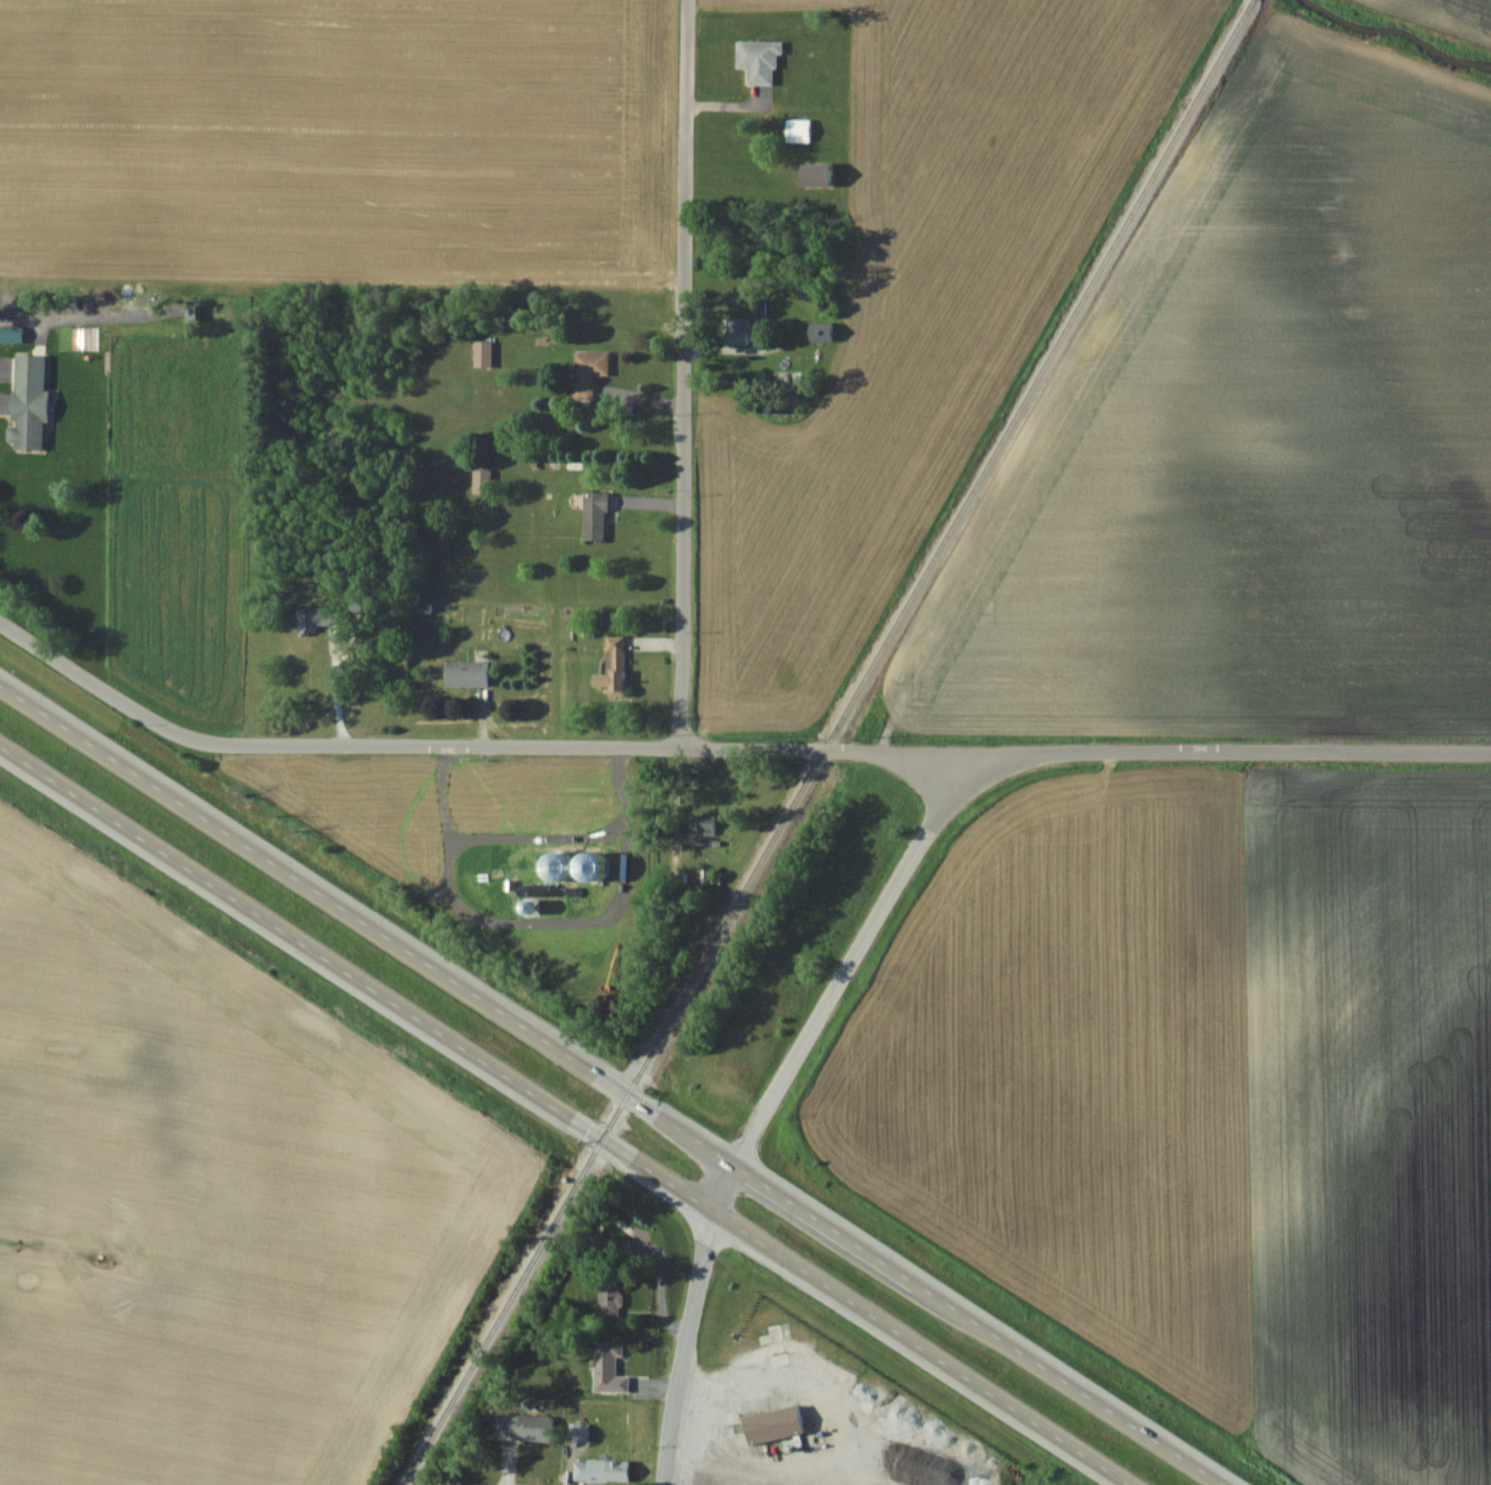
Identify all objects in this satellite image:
building: (758, 60)
building: (797, 131)
building: (815, 175)
building: (191, 313)
building: (736, 330)
building: (820, 332)
building: (482, 353)
building: (588, 371)
road: (683, 374)
building: (27, 400)
building: (481, 481)
building: (594, 515)
building: (315, 618)
building: (611, 665)
building: (465, 673)
road: (336, 687)
railway: (829, 743)
road: (728, 748)
building: (701, 824)
road: (849, 961)
road: (610, 1085)
road: (564, 1115)
building: (608, 1297)
road: (688, 1322)
building: (607, 1367)
building: (772, 1424)
building: (524, 1427)
building: (578, 1431)
road: (770, 1469)
building: (600, 1470)

